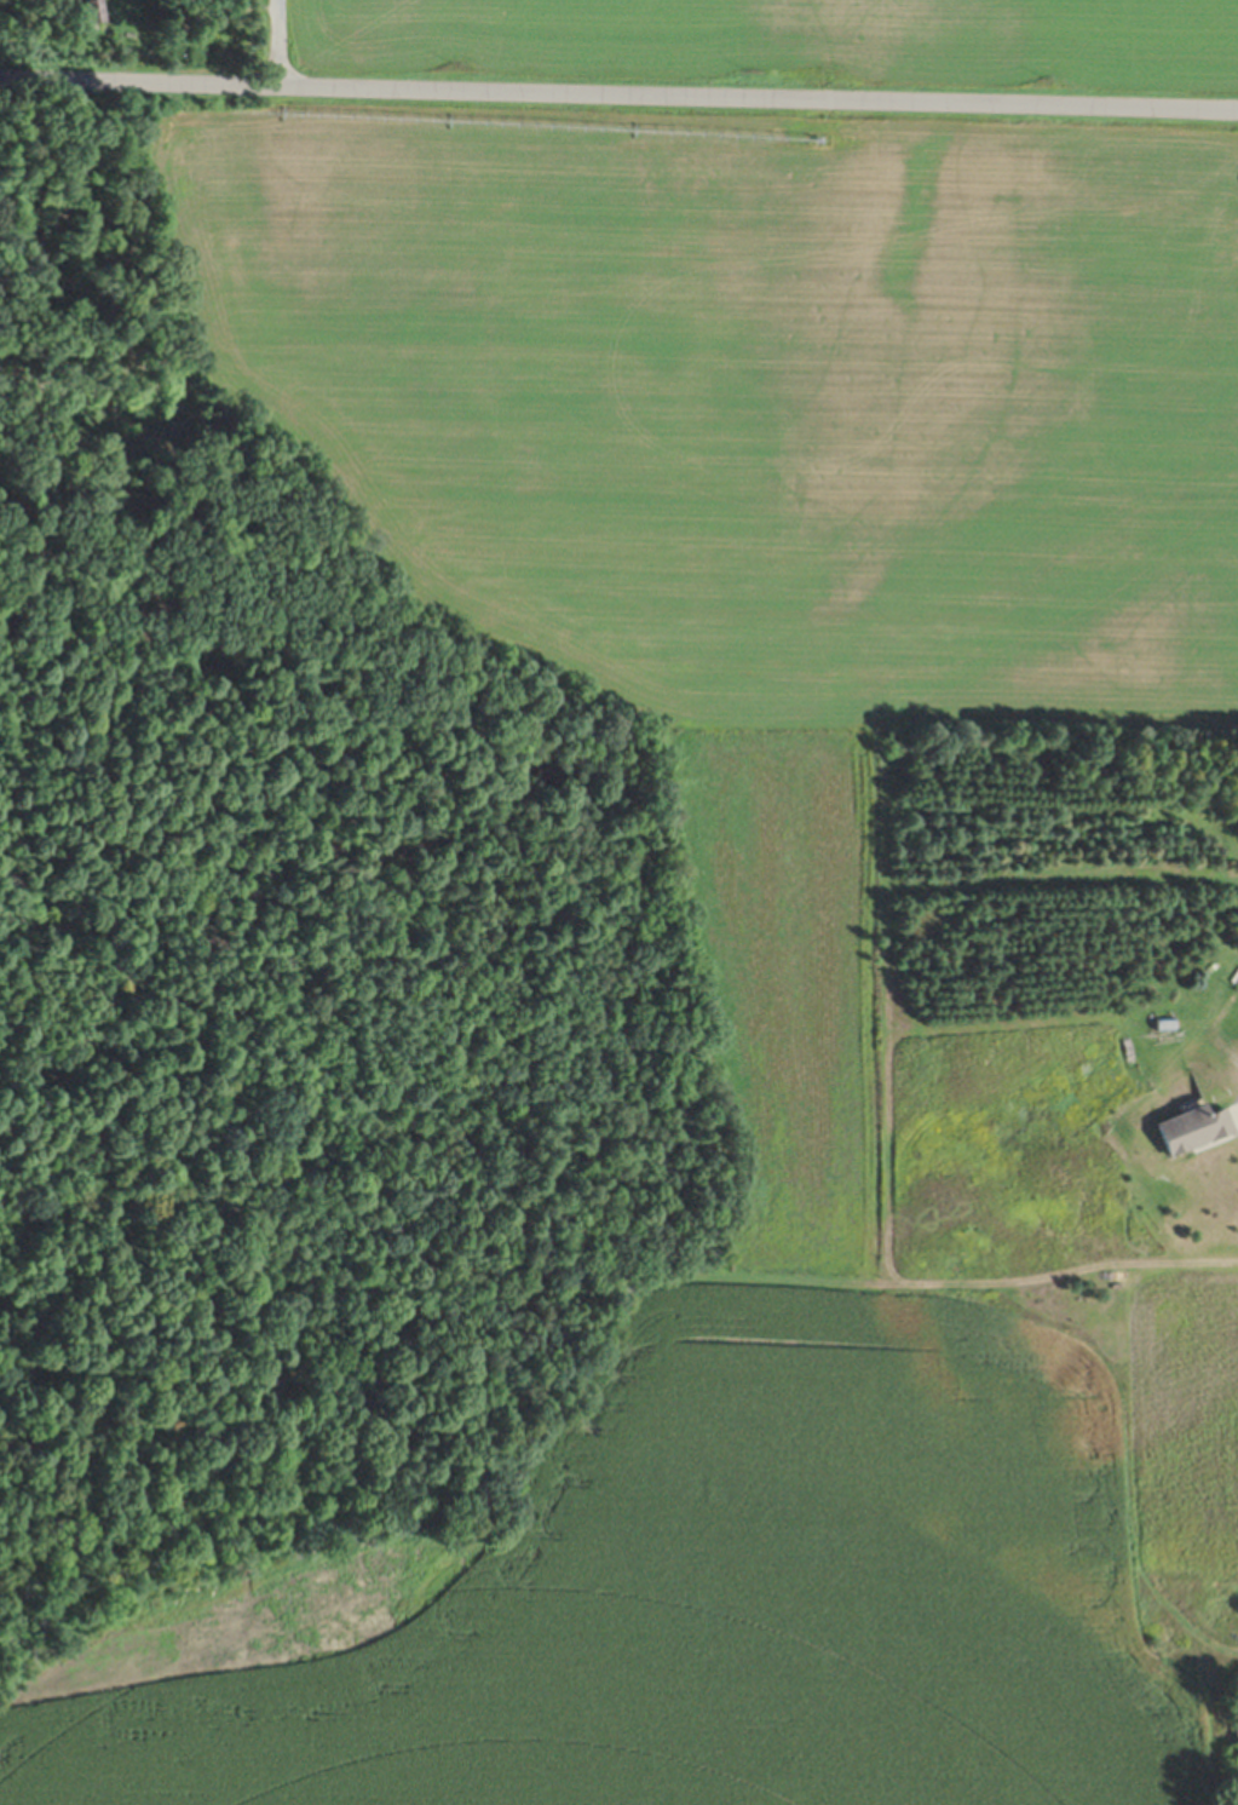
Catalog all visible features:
road: (272, 41)
road: (618, 92)
building: (1194, 1131)
building: (1236, 1712)

